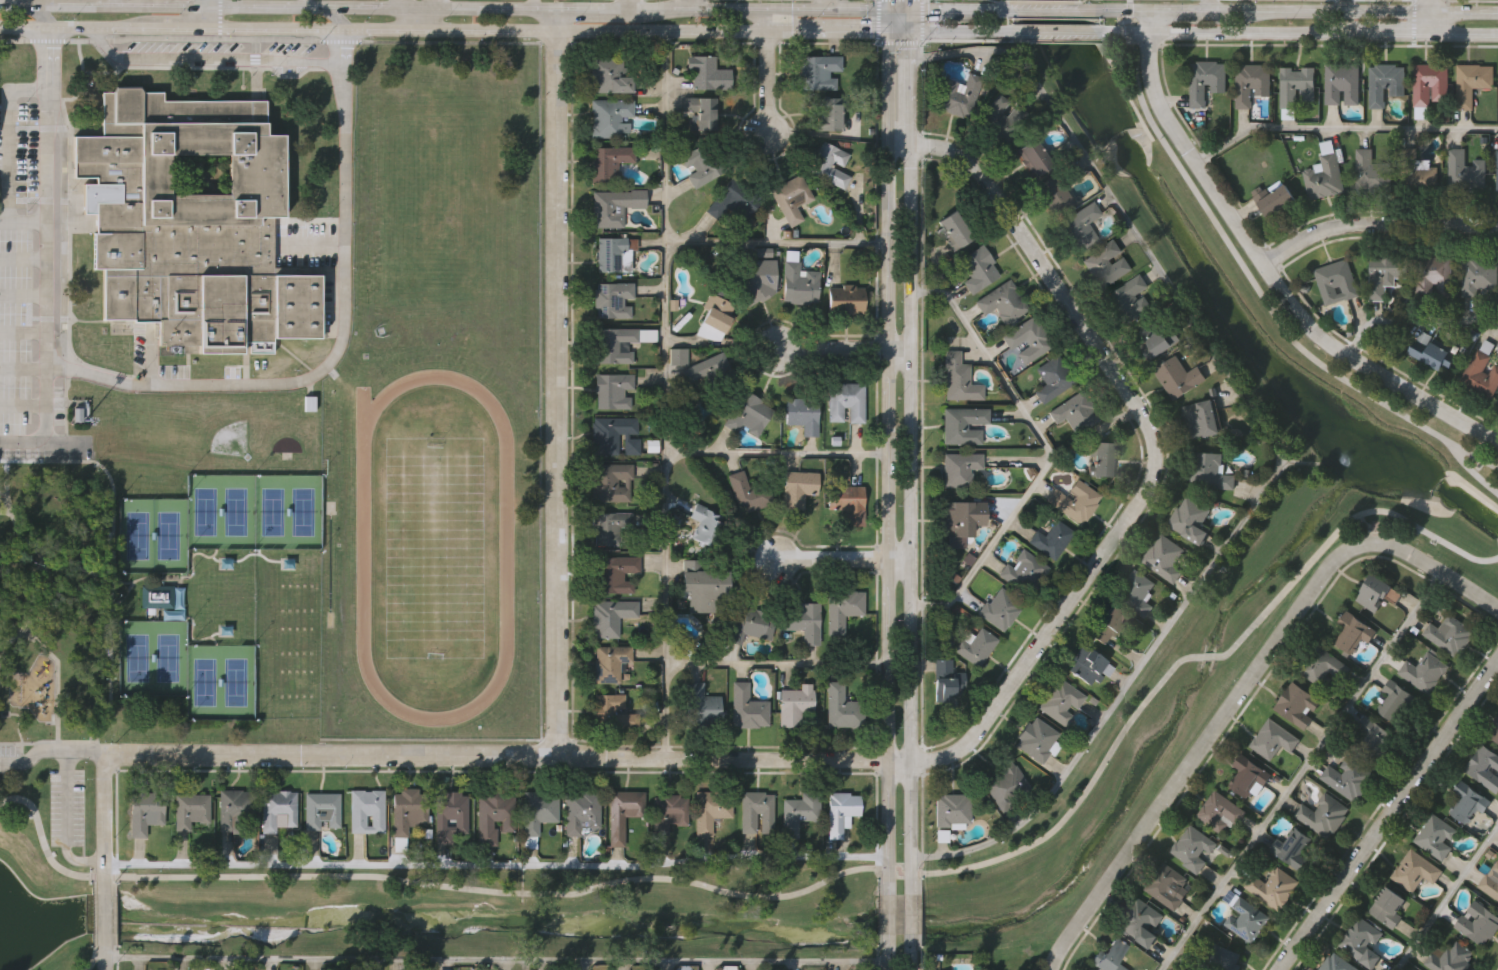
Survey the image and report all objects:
road: (15, 3)
road: (116, 3)
road: (305, 4)
road: (534, 5)
road: (629, 5)
road: (684, 5)
road: (888, 5)
road: (909, 5)
road: (1130, 5)
road: (842, 6)
road: (1210, 6)
road: (1345, 6)
road: (278, 7)
road: (585, 10)
road: (751, 11)
traffic signals: (888, 11)
road: (898, 11)
traffic signals: (909, 11)
road: (934, 11)
road: (980, 11)
road: (1042, 11)
road: (1290, 12)
road: (210, 13)
road: (41, 14)
road: (419, 14)
road: (335, 15)
road: (1432, 16)
road: (557, 19)
road: (908, 20)
road: (767, 21)
road: (888, 21)
road: (76, 26)
road: (182, 26)
road: (358, 28)
road: (531, 29)
road: (661, 30)
road: (898, 30)
traffic signals: (908, 30)
road: (961, 30)
road: (827, 31)
traffic signals: (888, 31)
road: (1055, 31)
road: (1224, 32)
road: (1391, 33)
road: (1465, 33)
road: (208, 60)
road: (46, 67)
building: (818, 73)
building: (708, 74)
building: (609, 76)
building: (1206, 82)
building: (1472, 84)
road: (767, 85)
building: (1251, 85)
building: (1385, 85)
road: (908, 86)
building: (1341, 86)
building: (1429, 86)
building: (1296, 87)
building: (960, 97)
building: (827, 114)
building: (699, 116)
building: (995, 117)
building: (610, 118)
road: (1343, 128)
road: (8, 136)
road: (899, 143)
building: (608, 162)
building: (702, 164)
building: (828, 164)
building: (1497, 172)
building: (1416, 173)
building: (1464, 173)
building: (1371, 174)
building: (1043, 178)
building: (1324, 179)
building: (790, 199)
building: (732, 201)
building: (1274, 202)
park: (443, 205)
building: (613, 207)
road: (23, 222)
building: (190, 223)
road: (1377, 224)
building: (1080, 228)
building: (953, 230)
road: (778, 242)
building: (613, 255)
road: (23, 259)
building: (1106, 266)
road: (1269, 268)
building: (977, 271)
building: (1385, 275)
building: (1479, 277)
building: (1434, 278)
building: (759, 279)
road: (1252, 282)
building: (1336, 284)
building: (798, 285)
road: (23, 296)
building: (1131, 300)
parking lot: (25, 301)
building: (613, 301)
building: (844, 301)
building: (1002, 303)
building: (715, 319)
road: (1416, 322)
road: (23, 332)
building: (1156, 340)
building: (1026, 341)
building: (616, 346)
road: (840, 347)
building: (1429, 352)
building: (678, 355)
road: (23, 367)
building: (704, 369)
building: (1481, 376)
building: (1178, 379)
building: (958, 380)
building: (1052, 380)
road: (229, 383)
road: (557, 391)
building: (613, 392)
road: (667, 394)
building: (845, 403)
road: (23, 405)
building: (1497, 405)
building: (747, 414)
building: (801, 414)
building: (1075, 414)
building: (1200, 422)
road: (46, 426)
building: (962, 426)
building: (614, 436)
road: (1277, 447)
road: (1052, 451)
road: (1155, 451)
road: (889, 454)
road: (778, 455)
building: (1101, 459)
building: (959, 470)
road: (1474, 472)
building: (1209, 473)
building: (611, 483)
road: (7, 488)
building: (797, 488)
building: (748, 493)
building: (1074, 502)
building: (846, 504)
park: (253, 508)
road: (909, 511)
building: (958, 519)
building: (1189, 522)
building: (707, 527)
building: (608, 528)
park: (153, 536)
building: (1051, 540)
park: (434, 544)
track: (505, 548)
road: (842, 557)
building: (1163, 560)
road: (46, 564)
road: (80, 568)
building: (1023, 570)
road: (1435, 571)
building: (614, 576)
building: (706, 592)
building: (1137, 592)
building: (157, 596)
building: (1379, 602)
building: (841, 610)
building: (1000, 610)
building: (610, 618)
building: (804, 623)
building: (750, 626)
building: (1106, 626)
building: (1351, 634)
building: (1448, 636)
building: (979, 648)
road: (113, 650)
park: (139, 651)
park: (153, 657)
building: (609, 663)
road: (778, 663)
building: (1321, 668)
building: (1424, 673)
park: (220, 679)
building: (943, 682)
building: (1060, 703)
building: (1396, 705)
building: (699, 706)
building: (793, 706)
building: (839, 706)
building: (1296, 706)
building: (747, 708)
building: (612, 714)
building: (1493, 733)
building: (1035, 740)
building: (1373, 740)
building: (1273, 741)
road: (28, 742)
road: (1202, 748)
road: (51, 752)
road: (507, 754)
parking lot: (10, 762)
building: (1484, 769)
road: (1302, 772)
building: (1349, 779)
building: (1247, 780)
building: (1005, 784)
building: (1467, 804)
parking lot: (67, 806)
building: (236, 808)
building: (624, 808)
building: (279, 809)
building: (952, 810)
building: (192, 811)
building: (539, 811)
building: (711, 811)
building: (146, 812)
building: (322, 812)
building: (367, 812)
building: (582, 812)
building: (671, 812)
building: (800, 812)
building: (841, 812)
building: (758, 813)
building: (407, 814)
road: (1388, 814)
building: (1220, 815)
building: (450, 816)
building: (494, 816)
building: (1323, 816)
road: (67, 822)
building: (1436, 838)
building: (1291, 848)
building: (1193, 849)
road: (105, 861)
road: (497, 866)
building: (1414, 872)
building: (1490, 883)
building: (1168, 887)
road: (807, 888)
building: (1273, 888)
road: (1447, 898)
building: (1387, 909)
road: (889, 913)
road: (909, 913)
building: (1245, 921)
road: (90, 923)
building: (1139, 923)
building: (1477, 924)
building: (1361, 943)
building: (1110, 956)
road: (497, 958)
road: (889, 958)
road: (909, 958)
building: (1449, 958)
building: (1219, 959)
building: (1336, 964)

